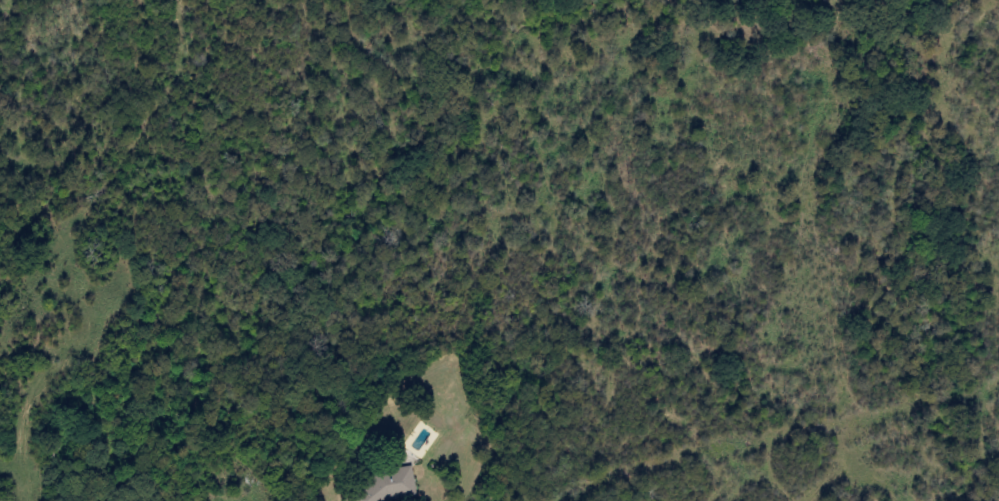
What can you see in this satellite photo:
building: (382, 486)

